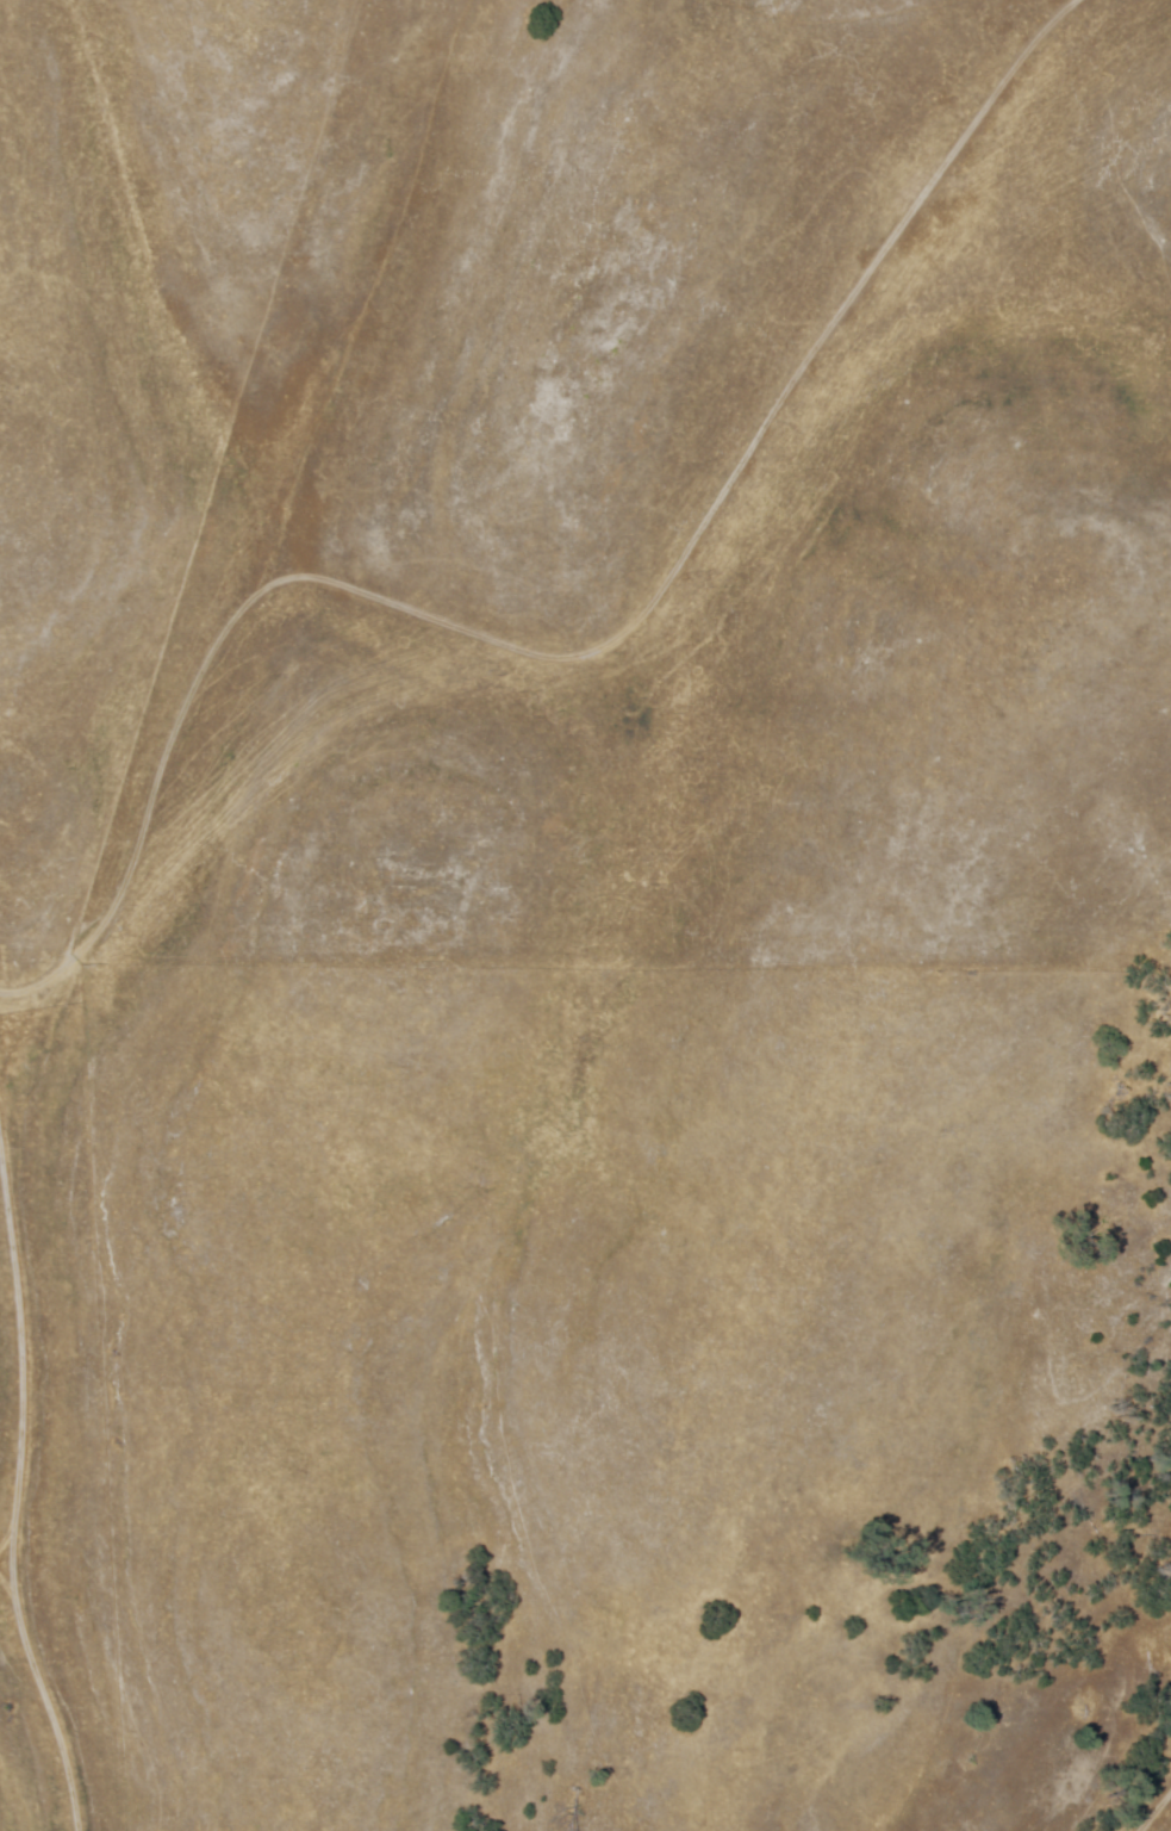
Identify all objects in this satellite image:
road: (409, 323)
road: (518, 592)
road: (46, 1448)

